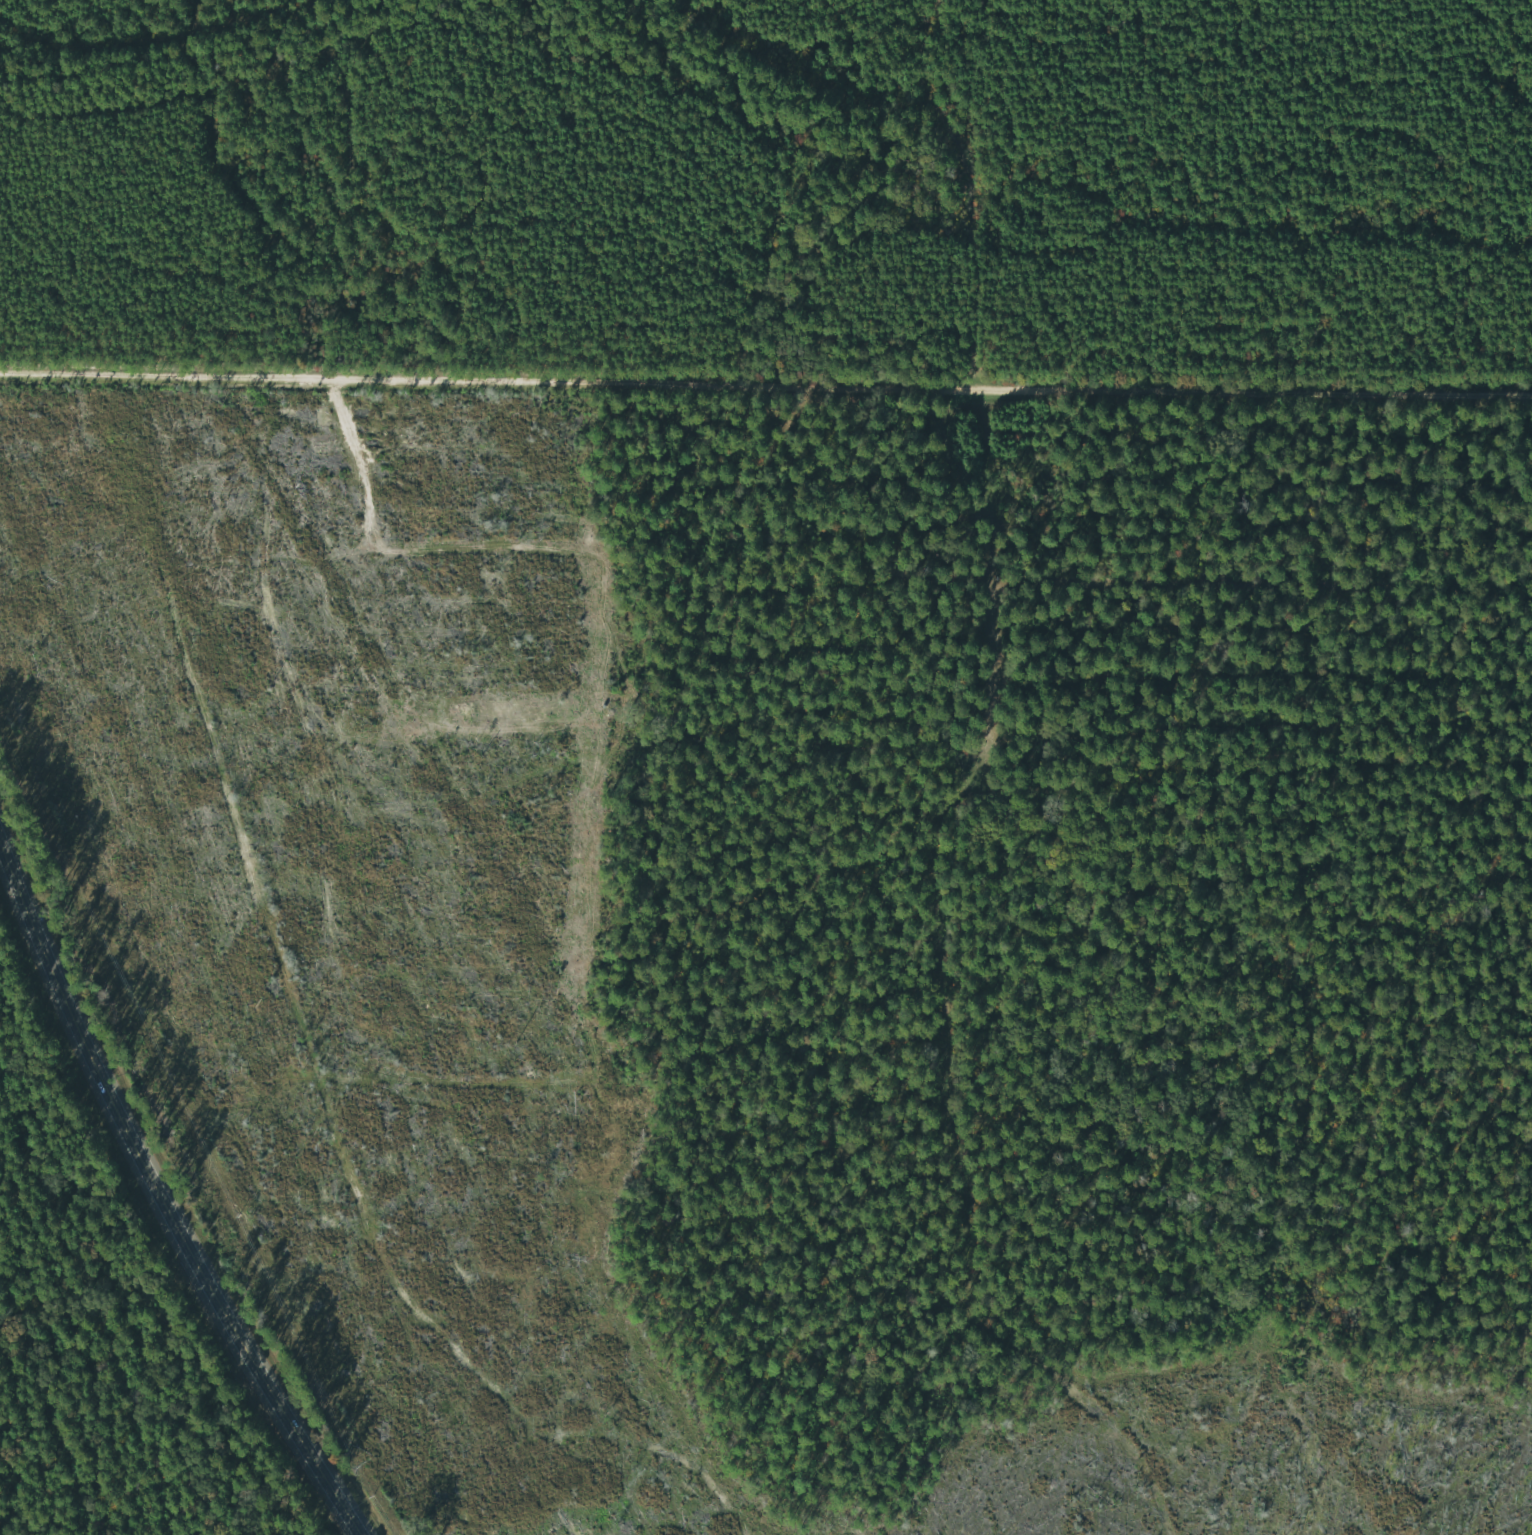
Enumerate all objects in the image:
road: (766, 386)
road: (164, 1200)

